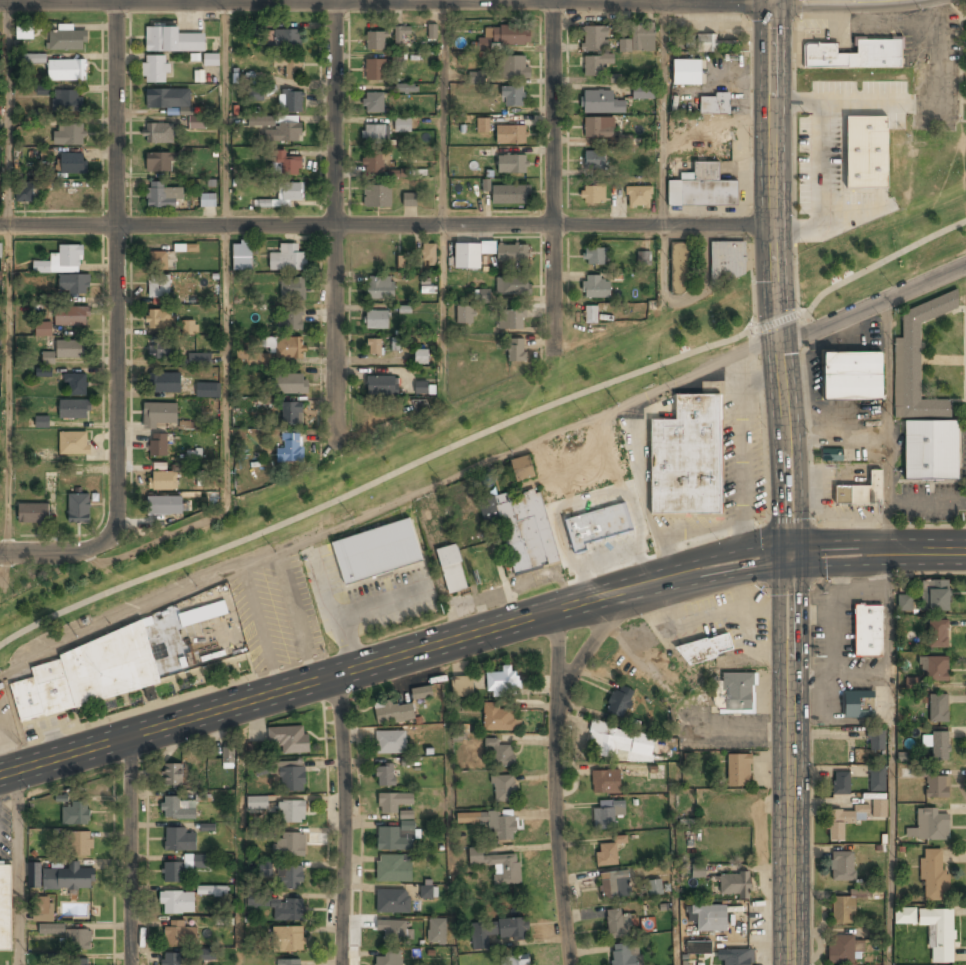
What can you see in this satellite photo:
road: (385, 0)
building: (24, 31)
building: (431, 31)
building: (400, 33)
building: (511, 35)
building: (595, 38)
building: (67, 39)
building: (287, 39)
building: (640, 39)
building: (172, 40)
building: (376, 40)
building: (713, 43)
building: (855, 55)
building: (34, 58)
building: (211, 59)
building: (595, 65)
building: (289, 66)
building: (514, 67)
building: (155, 69)
building: (67, 70)
building: (376, 70)
building: (687, 72)
building: (475, 77)
building: (406, 89)
building: (41, 90)
building: (643, 93)
building: (255, 95)
building: (513, 96)
building: (157, 98)
building: (65, 101)
building: (291, 101)
building: (373, 102)
building: (601, 102)
building: (715, 104)
building: (0, 110)
building: (196, 122)
building: (403, 125)
building: (483, 126)
building: (598, 127)
building: (278, 130)
building: (158, 133)
building: (375, 134)
building: (68, 135)
building: (511, 135)
building: (623, 142)
road: (663, 153)
building: (863, 153)
building: (595, 160)
building: (159, 162)
building: (372, 162)
building: (72, 164)
building: (287, 164)
building: (513, 164)
building: (397, 173)
road: (553, 177)
building: (702, 188)
building: (26, 191)
building: (511, 194)
building: (593, 194)
building: (161, 195)
building: (284, 195)
building: (378, 195)
building: (638, 197)
building: (410, 199)
road: (444, 199)
building: (208, 200)
road: (335, 221)
road: (387, 226)
road: (226, 238)
park: (890, 238)
building: (188, 248)
building: (1, 250)
building: (513, 252)
building: (428, 255)
building: (242, 256)
building: (468, 256)
building: (595, 256)
road: (114, 257)
building: (288, 259)
building: (644, 259)
building: (62, 260)
building: (161, 260)
building: (401, 261)
building: (727, 261)
building: (680, 268)
road: (6, 276)
road: (776, 276)
building: (73, 284)
building: (513, 286)
building: (596, 287)
building: (158, 288)
building: (380, 288)
building: (292, 289)
building: (428, 290)
building: (482, 296)
road: (872, 312)
building: (590, 314)
building: (70, 316)
building: (465, 316)
building: (157, 319)
building: (512, 319)
building: (377, 320)
building: (291, 321)
building: (190, 328)
building: (42, 329)
building: (0, 343)
building: (395, 343)
building: (284, 347)
building: (374, 347)
building: (69, 349)
building: (159, 350)
building: (517, 351)
building: (47, 356)
building: (421, 357)
building: (250, 358)
building: (195, 360)
building: (917, 361)
building: (43, 372)
building: (852, 376)
building: (164, 382)
building: (75, 384)
building: (291, 384)
building: (381, 386)
building: (422, 388)
building: (206, 389)
building: (74, 408)
building: (159, 413)
building: (291, 414)
building: (41, 421)
road: (483, 432)
building: (74, 442)
building: (158, 445)
building: (290, 448)
building: (931, 451)
building: (831, 456)
building: (687, 458)
park: (399, 461)
building: (522, 468)
building: (201, 477)
building: (163, 481)
building: (862, 493)
building: (160, 505)
building: (78, 509)
building: (33, 512)
building: (599, 526)
building: (523, 528)
road: (876, 551)
road: (66, 552)
building: (376, 552)
road: (778, 553)
traffic signals: (788, 553)
building: (451, 569)
building: (935, 596)
building: (904, 602)
building: (198, 610)
building: (868, 631)
building: (938, 635)
building: (703, 648)
road: (384, 660)
building: (935, 668)
building: (94, 673)
building: (503, 681)
building: (911, 682)
building: (462, 687)
building: (738, 692)
building: (422, 693)
building: (620, 701)
building: (858, 704)
building: (938, 708)
building: (392, 712)
building: (499, 717)
building: (633, 723)
building: (290, 739)
building: (876, 739)
building: (390, 742)
building: (622, 742)
building: (939, 745)
building: (256, 747)
building: (502, 753)
building: (228, 755)
road: (889, 758)
road: (788, 759)
building: (739, 770)
building: (172, 775)
building: (289, 775)
building: (385, 776)
building: (876, 778)
building: (606, 781)
building: (841, 783)
road: (554, 787)
building: (937, 787)
building: (504, 790)
building: (393, 802)
building: (256, 803)
building: (180, 809)
building: (879, 809)
building: (291, 812)
building: (75, 813)
building: (607, 813)
road: (339, 820)
building: (492, 823)
building: (841, 823)
building: (929, 826)
building: (393, 838)
building: (180, 840)
building: (80, 844)
building: (290, 844)
road: (128, 850)
building: (609, 852)
building: (498, 866)
building: (843, 866)
road: (16, 867)
building: (182, 867)
building: (265, 868)
building: (394, 868)
building: (698, 871)
building: (34, 875)
building: (933, 875)
building: (291, 877)
building: (65, 878)
building: (615, 885)
building: (734, 885)
building: (654, 888)
building: (214, 891)
building: (428, 892)
building: (393, 900)
building: (177, 902)
building: (5, 905)
building: (42, 909)
building: (287, 910)
building: (843, 910)
building: (904, 915)
building: (710, 918)
building: (619, 923)
building: (393, 928)
building: (51, 929)
building: (437, 931)
building: (496, 932)
building: (179, 933)
building: (939, 933)
building: (79, 939)
building: (288, 939)
building: (698, 947)
building: (841, 950)
building: (624, 954)
building: (202, 955)
building: (739, 957)
building: (390, 958)
building: (170, 959)
building: (515, 960)
building: (79, 962)
building: (290, 962)

